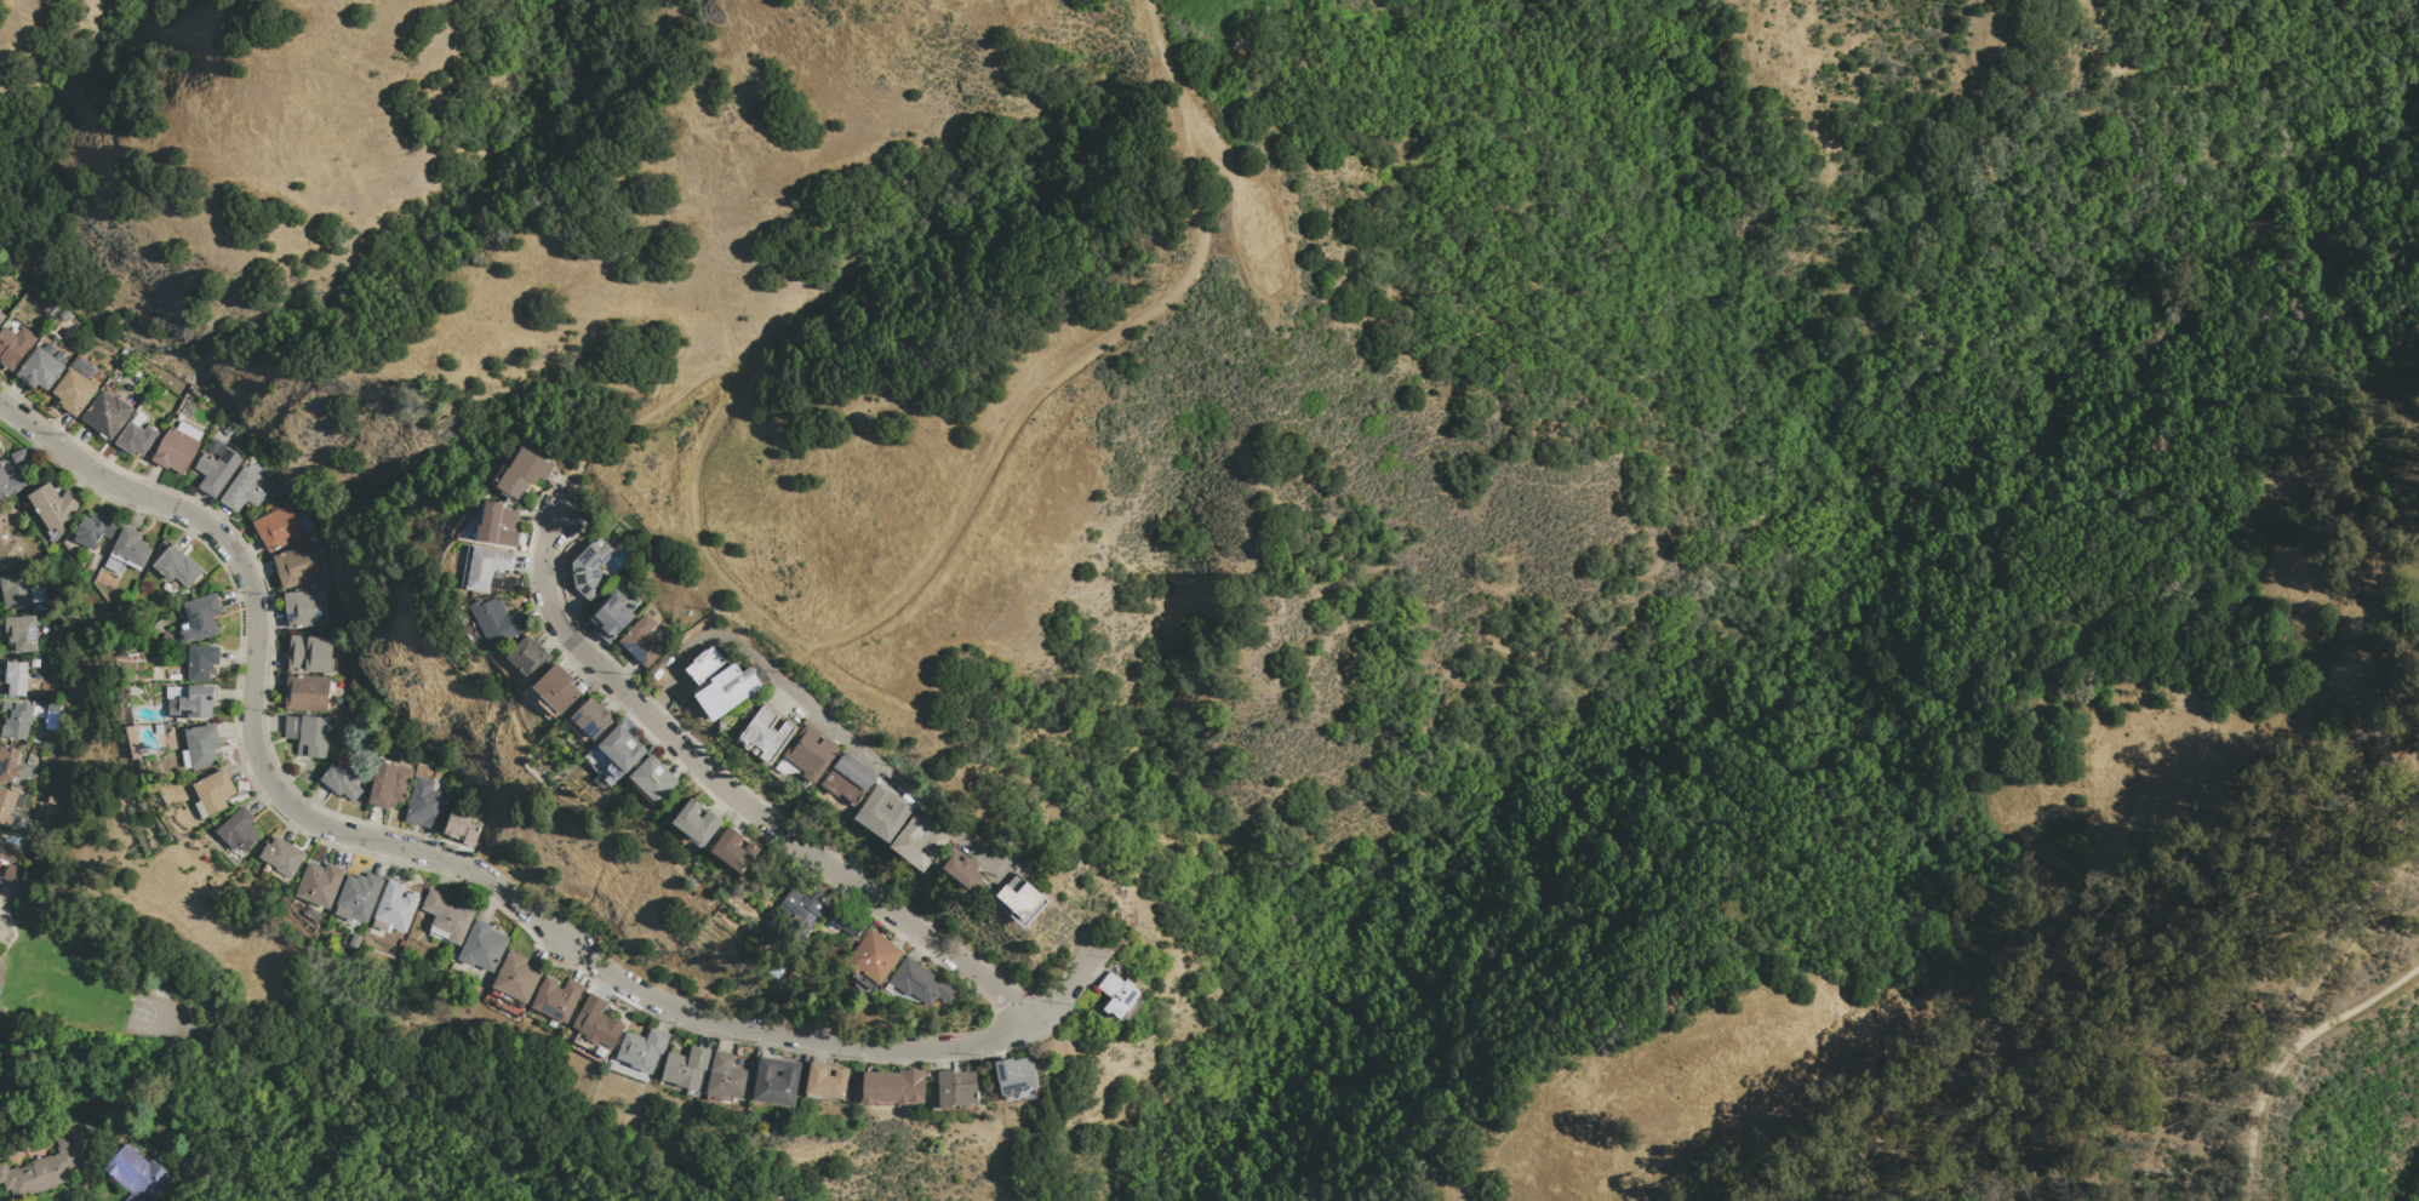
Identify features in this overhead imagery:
park: (2293, 213)
building: (1, 316)
building: (15, 345)
building: (82, 367)
building: (40, 370)
building: (74, 393)
building: (107, 414)
building: (189, 431)
building: (227, 431)
building: (136, 439)
building: (175, 451)
building: (0, 452)
building: (0, 454)
building: (18, 456)
building: (216, 468)
building: (522, 474)
building: (11, 484)
building: (242, 491)
building: (55, 507)
building: (494, 525)
building: (281, 527)
building: (95, 530)
building: (607, 536)
building: (131, 548)
building: (8, 550)
building: (115, 565)
building: (177, 566)
building: (296, 566)
building: (486, 567)
building: (590, 568)
road: (923, 578)
building: (15, 590)
building: (38, 595)
building: (305, 610)
building: (611, 616)
building: (201, 618)
building: (498, 620)
building: (22, 634)
road: (257, 634)
building: (642, 641)
building: (309, 654)
building: (528, 657)
building: (201, 663)
building: (705, 665)
building: (15, 677)
building: (556, 690)
building: (727, 691)
building: (177, 692)
building: (308, 693)
road: (800, 700)
building: (194, 703)
building: (39, 711)
building: (53, 714)
building: (593, 717)
building: (16, 720)
building: (766, 733)
building: (308, 734)
building: (202, 745)
building: (621, 750)
building: (811, 753)
building: (187, 759)
building: (8, 764)
building: (25, 773)
building: (847, 778)
building: (653, 779)
building: (342, 780)
building: (388, 785)
building: (215, 791)
road: (742, 801)
building: (425, 805)
building: (6, 806)
building: (201, 810)
building: (882, 812)
building: (16, 813)
building: (697, 823)
building: (463, 827)
building: (240, 830)
building: (919, 842)
building: (742, 843)
building: (7, 851)
building: (733, 851)
building: (282, 856)
building: (960, 868)
building: (12, 874)
building: (1, 885)
building: (320, 885)
building: (1019, 897)
building: (359, 898)
building: (396, 907)
building: (814, 913)
building: (447, 916)
building: (381, 925)
building: (439, 934)
building: (356, 942)
building: (484, 946)
park: (84, 948)
building: (873, 956)
building: (517, 977)
building: (863, 982)
building: (920, 983)
building: (1117, 995)
building: (556, 999)
building: (597, 1023)
road: (779, 1035)
building: (642, 1050)
road: (2289, 1053)
building: (686, 1068)
building: (727, 1077)
building: (1016, 1079)
building: (774, 1081)
building: (825, 1081)
building: (893, 1087)
building: (956, 1087)
building: (46, 1168)
building: (136, 1174)

